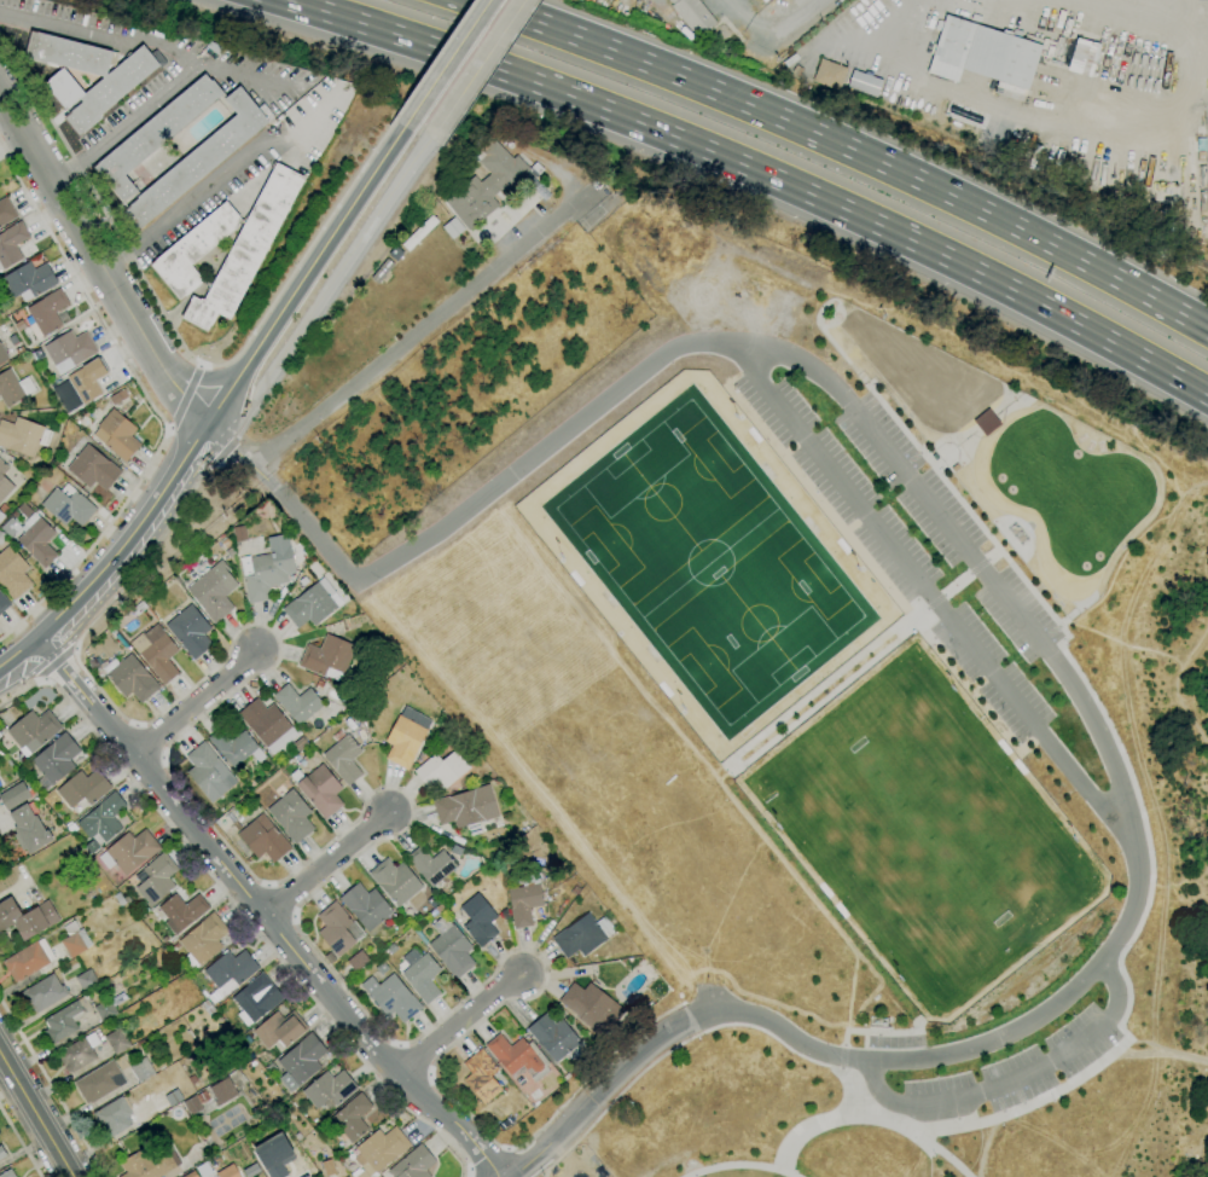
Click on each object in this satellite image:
building: (763, 0)
building: (693, 16)
road: (748, 19)
road: (788, 19)
road: (146, 40)
building: (70, 53)
building: (986, 56)
road: (435, 57)
road: (447, 59)
road: (478, 64)
road: (492, 66)
building: (829, 74)
building: (864, 83)
road: (699, 86)
building: (63, 88)
building: (112, 88)
road: (594, 102)
road: (139, 112)
road: (1080, 127)
building: (153, 135)
building: (198, 161)
road: (66, 172)
building: (488, 184)
road: (187, 199)
building: (6, 211)
building: (418, 232)
building: (11, 244)
building: (245, 250)
building: (193, 251)
road: (1065, 253)
road: (100, 257)
road: (304, 271)
building: (29, 280)
road: (330, 284)
road: (341, 284)
road: (1046, 307)
building: (46, 313)
building: (19, 325)
road: (178, 344)
road: (763, 347)
road: (400, 348)
building: (69, 350)
building: (2, 355)
road: (204, 366)
road: (201, 378)
building: (88, 379)
building: (13, 388)
building: (117, 396)
road: (188, 398)
road: (152, 405)
road: (169, 429)
building: (117, 435)
building: (23, 436)
road: (226, 448)
road: (215, 462)
building: (93, 468)
building: (4, 481)
road: (493, 492)
building: (31, 497)
building: (68, 505)
building: (4, 509)
building: (1, 516)
parking lot: (947, 527)
road: (127, 537)
building: (1, 538)
building: (37, 539)
road: (139, 550)
parking lot: (896, 555)
road: (992, 555)
park: (709, 563)
road: (977, 567)
building: (266, 572)
building: (12, 573)
road: (956, 584)
building: (211, 595)
road: (934, 599)
building: (4, 603)
building: (309, 605)
building: (139, 608)
building: (191, 631)
road: (42, 647)
road: (17, 653)
building: (158, 653)
building: (327, 657)
road: (54, 661)
building: (395, 663)
road: (58, 667)
road: (27, 676)
building: (130, 677)
building: (319, 684)
road: (826, 690)
park: (815, 701)
road: (197, 702)
building: (301, 705)
building: (355, 714)
building: (267, 723)
building: (34, 731)
building: (0, 735)
building: (361, 735)
building: (403, 741)
building: (301, 743)
building: (237, 748)
road: (1120, 758)
building: (315, 759)
building: (344, 759)
building: (56, 760)
building: (27, 766)
park: (870, 766)
building: (204, 769)
building: (441, 770)
building: (83, 789)
building: (321, 790)
road: (403, 793)
building: (14, 795)
building: (467, 808)
building: (291, 814)
building: (103, 822)
building: (71, 828)
building: (29, 829)
building: (263, 839)
park: (928, 839)
park: (929, 840)
building: (130, 851)
road: (330, 864)
building: (431, 865)
building: (156, 879)
building: (395, 881)
building: (575, 891)
road: (805, 892)
building: (118, 899)
building: (524, 900)
building: (432, 901)
building: (366, 905)
building: (440, 909)
building: (143, 910)
building: (178, 911)
road: (240, 911)
park: (988, 915)
building: (28, 917)
building: (478, 920)
road: (273, 927)
building: (336, 928)
building: (583, 935)
building: (75, 939)
building: (164, 939)
building: (203, 940)
building: (175, 946)
building: (451, 947)
building: (28, 959)
building: (230, 973)
building: (420, 974)
building: (87, 980)
building: (43, 993)
road: (712, 993)
building: (256, 998)
building: (395, 998)
building: (587, 1003)
building: (209, 1009)
building: (105, 1010)
building: (65, 1020)
road: (460, 1024)
building: (280, 1028)
road: (879, 1032)
building: (553, 1037)
road: (691, 1038)
building: (603, 1039)
building: (117, 1040)
road: (397, 1043)
road: (977, 1046)
building: (79, 1053)
building: (518, 1057)
road: (412, 1060)
road: (841, 1060)
building: (301, 1061)
building: (122, 1062)
road: (370, 1068)
building: (141, 1069)
parking lot: (1012, 1072)
road: (428, 1074)
building: (481, 1075)
building: (567, 1077)
road: (1016, 1078)
building: (193, 1080)
building: (99, 1082)
road: (606, 1083)
road: (52, 1088)
building: (329, 1089)
building: (223, 1091)
building: (173, 1097)
building: (194, 1100)
road: (396, 1100)
road: (37, 1113)
building: (114, 1117)
building: (352, 1117)
road: (870, 1117)
road: (19, 1142)
road: (506, 1147)
building: (381, 1149)
building: (2, 1153)
road: (498, 1153)
building: (274, 1155)
building: (147, 1164)
building: (413, 1164)
road: (742, 1165)
road: (467, 1169)
building: (228, 1172)
building: (7, 1173)
building: (192, 1175)

